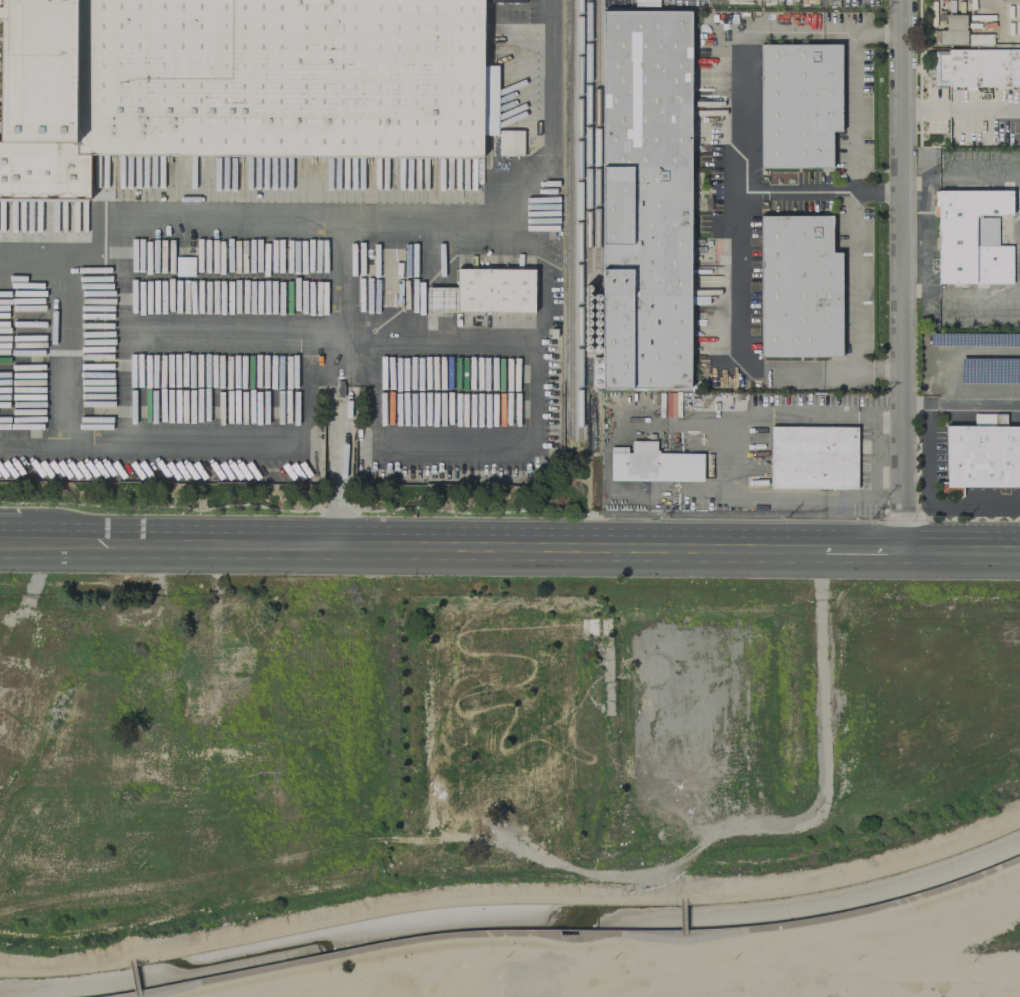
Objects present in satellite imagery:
building: (953, 30)
road: (822, 35)
building: (976, 67)
building: (230, 81)
building: (801, 105)
road: (961, 109)
railway: (587, 138)
railway: (597, 138)
building: (510, 142)
road: (945, 169)
road: (525, 191)
road: (821, 194)
building: (648, 200)
road: (741, 202)
road: (854, 203)
railway: (570, 219)
railway: (579, 219)
building: (1018, 234)
building: (972, 236)
road: (903, 275)
road: (339, 280)
building: (802, 288)
building: (494, 290)
road: (985, 297)
building: (439, 299)
road: (821, 370)
road: (973, 405)
road: (338, 448)
road: (31, 450)
road: (875, 450)
building: (981, 456)
building: (813, 457)
building: (653, 463)
road: (927, 487)
road: (8, 538)
road: (460, 544)
road: (958, 550)
road: (1016, 550)
road: (514, 894)
road: (574, 935)

